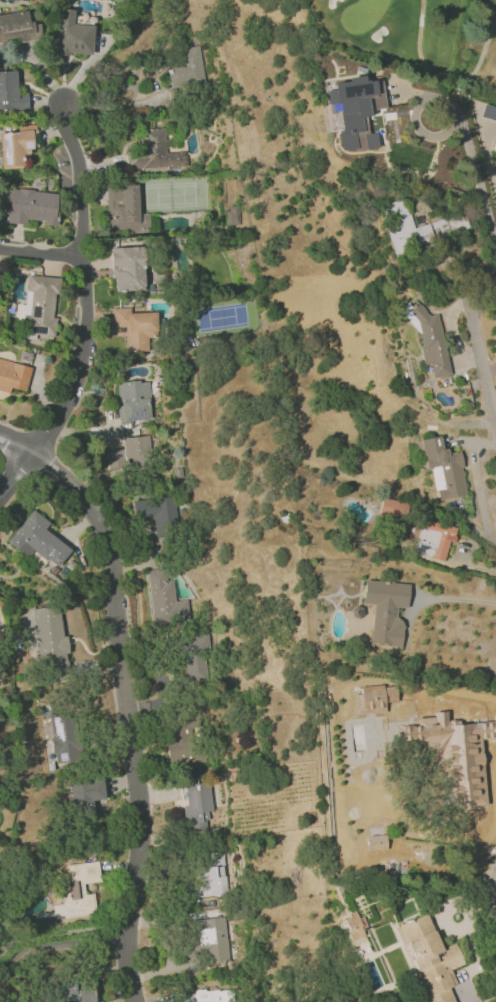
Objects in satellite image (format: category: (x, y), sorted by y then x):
building: (17, 27)
park: (417, 32)
building: (72, 35)
road: (106, 55)
building: (188, 68)
building: (11, 92)
building: (356, 110)
building: (488, 112)
building: (155, 152)
road: (475, 177)
building: (32, 206)
building: (124, 208)
building: (231, 214)
building: (407, 226)
road: (40, 258)
building: (127, 268)
road: (83, 284)
building: (42, 305)
road: (482, 305)
building: (135, 327)
building: (429, 341)
road: (484, 368)
building: (13, 376)
building: (133, 400)
road: (12, 426)
road: (11, 443)
road: (17, 444)
building: (130, 453)
building: (443, 468)
road: (17, 475)
building: (393, 510)
building: (157, 513)
building: (432, 538)
building: (38, 540)
building: (165, 599)
road: (457, 599)
building: (385, 610)
building: (46, 636)
building: (196, 657)
building: (373, 698)
road: (132, 714)
building: (64, 738)
building: (183, 738)
building: (456, 755)
building: (85, 795)
building: (195, 804)
building: (210, 876)
building: (78, 891)
road: (494, 907)
building: (354, 927)
building: (207, 938)
road: (65, 943)
building: (429, 958)
building: (79, 991)
building: (213, 995)

